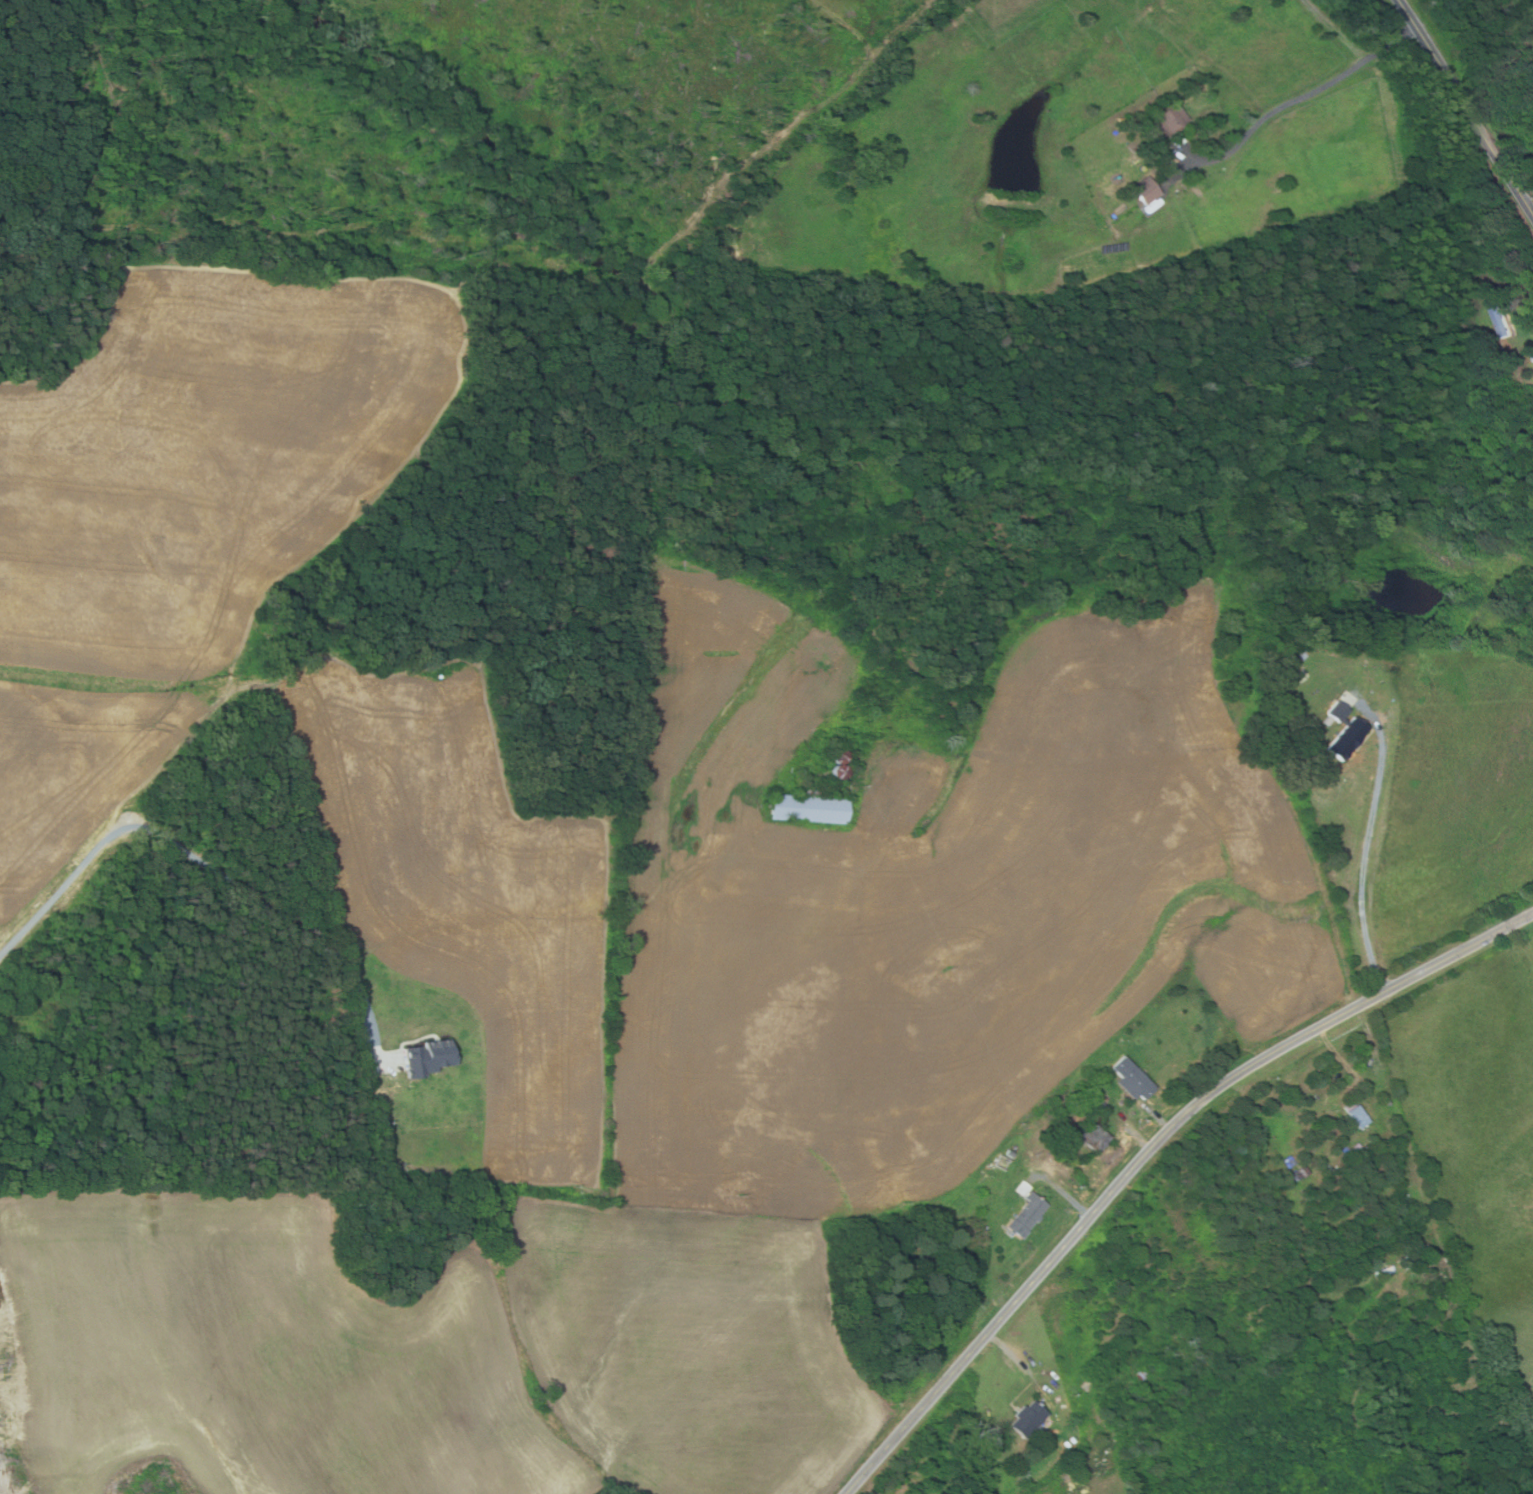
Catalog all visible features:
road: (1291, 100)
road: (1464, 105)
building: (1165, 120)
road: (1527, 188)
building: (1145, 190)
building: (1114, 247)
building: (1500, 316)
road: (1528, 322)
crop: (210, 452)
building: (1337, 711)
building: (1347, 738)
crop: (78, 772)
building: (809, 809)
road: (1365, 856)
road: (209, 865)
crop: (465, 891)
crop: (927, 900)
building: (427, 1057)
road: (1350, 1070)
building: (1132, 1079)
building: (1101, 1105)
building: (1358, 1116)
road: (1158, 1117)
building: (1092, 1136)
road: (1137, 1137)
building: (1352, 1151)
road: (1148, 1152)
building: (1010, 1153)
building: (1290, 1162)
building: (1303, 1170)
building: (1296, 1174)
building: (1022, 1188)
road: (1064, 1193)
building: (1026, 1215)
building: (1432, 1260)
building: (1405, 1261)
building: (1385, 1271)
crop: (427, 1350)
road: (1011, 1354)
building: (1028, 1419)
building: (1072, 1439)

